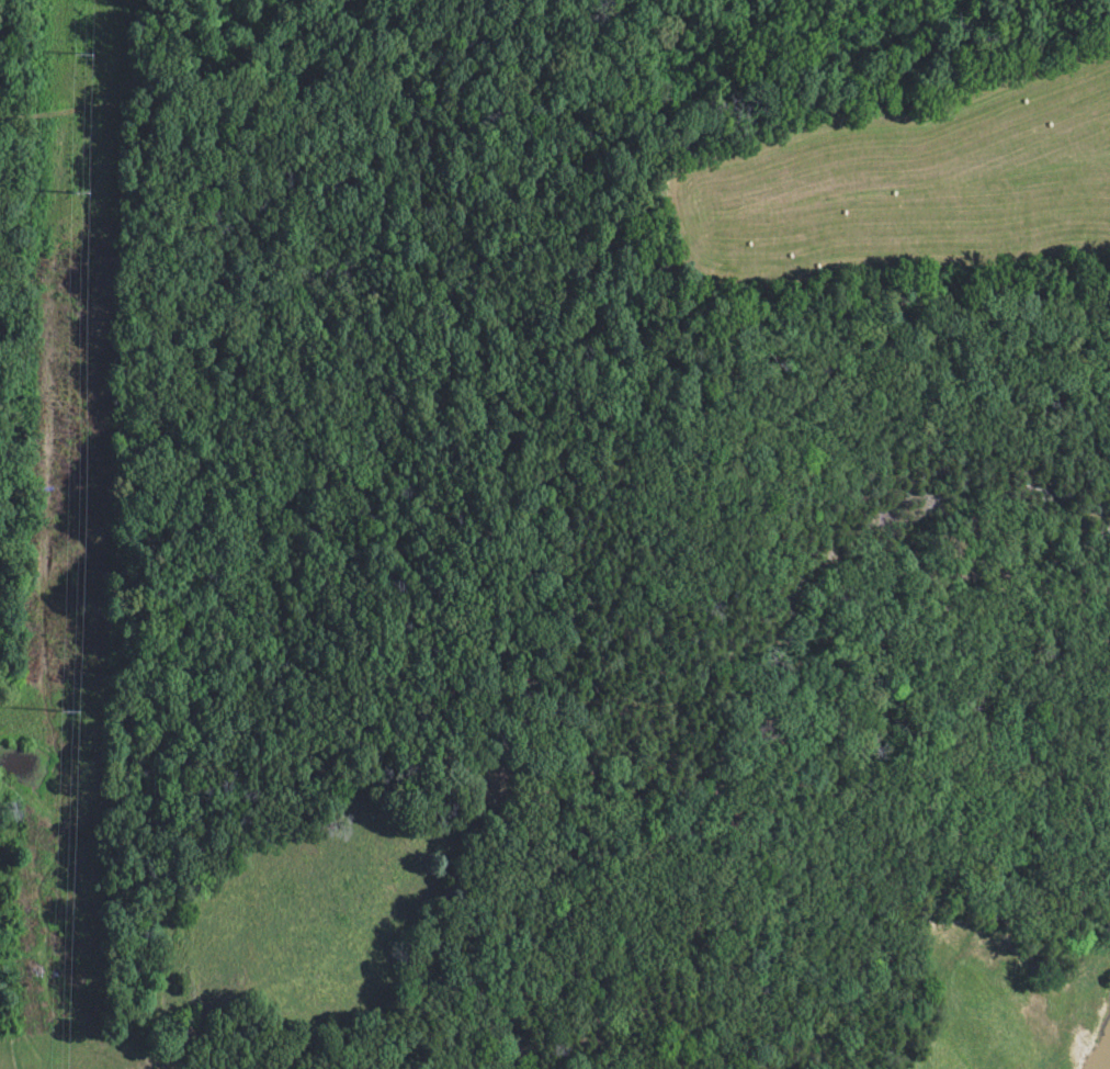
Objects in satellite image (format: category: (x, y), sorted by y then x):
power tower: (78, 55)
power tower: (75, 192)
power tower: (67, 712)

